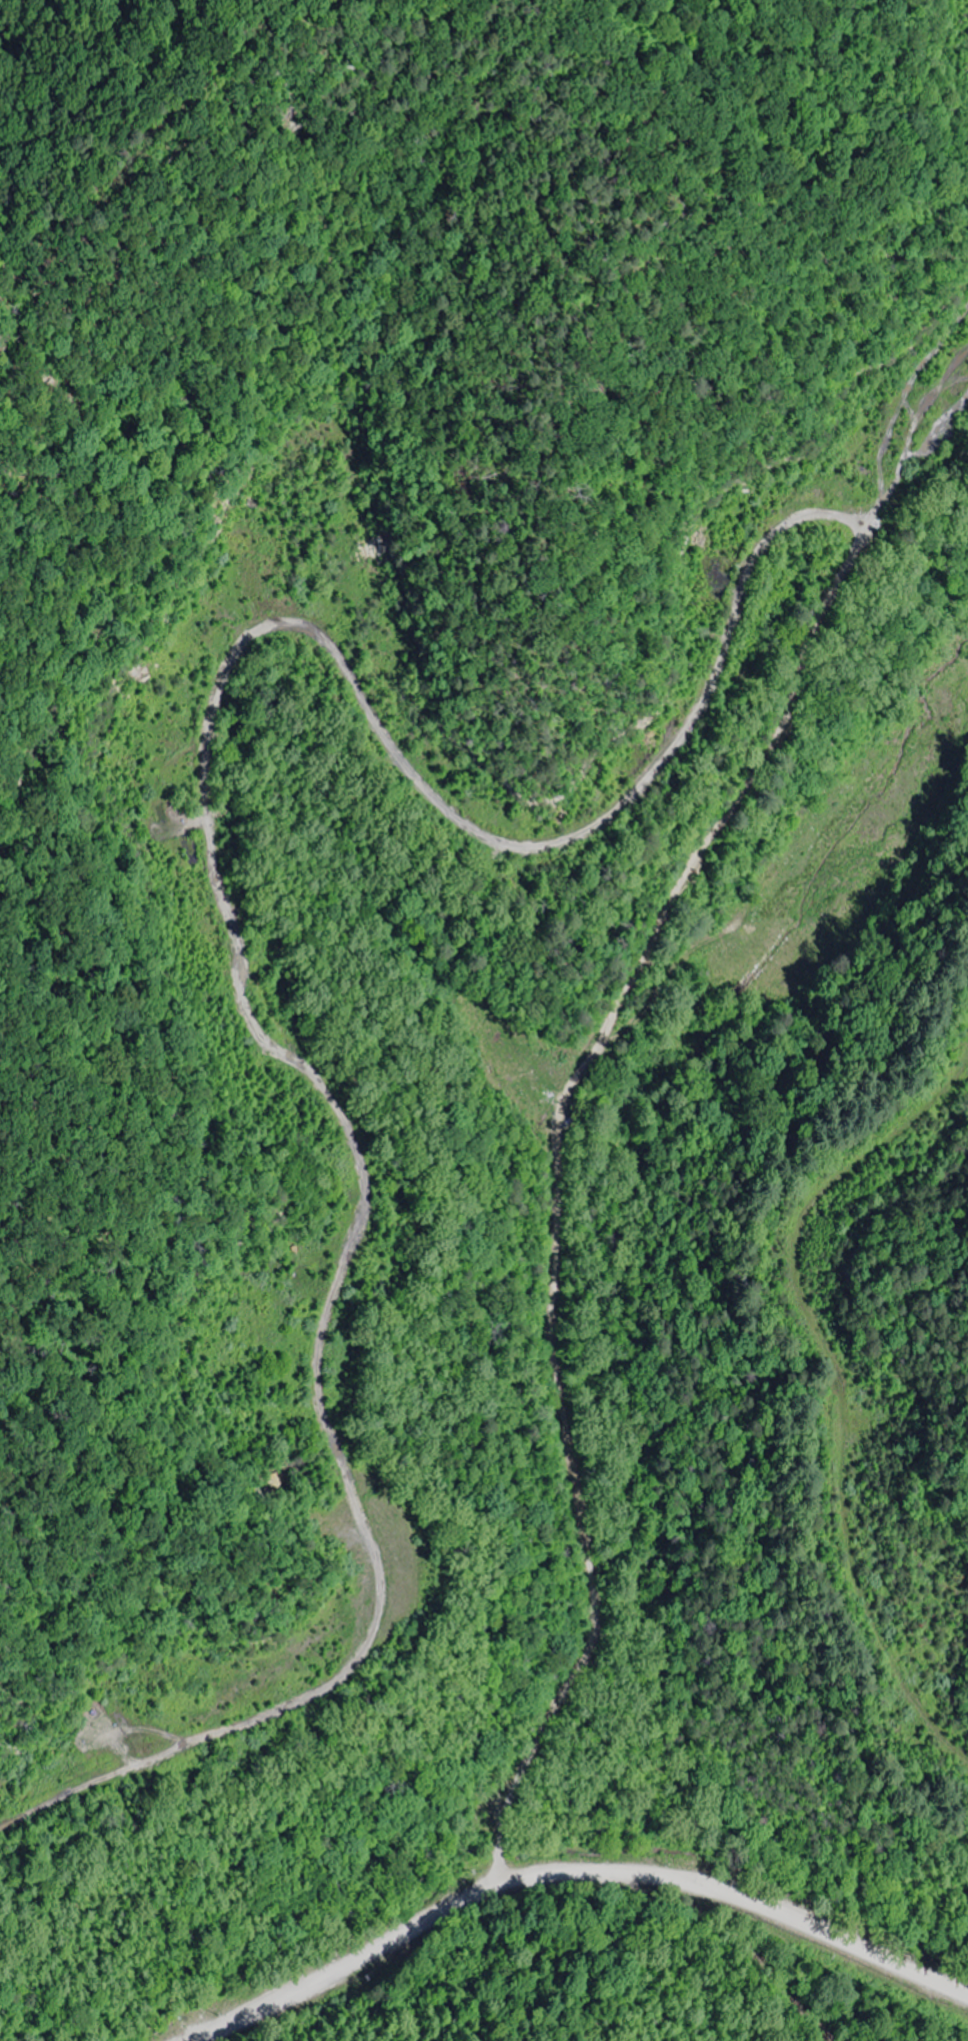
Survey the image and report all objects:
road: (610, 1093)
road: (577, 1874)

